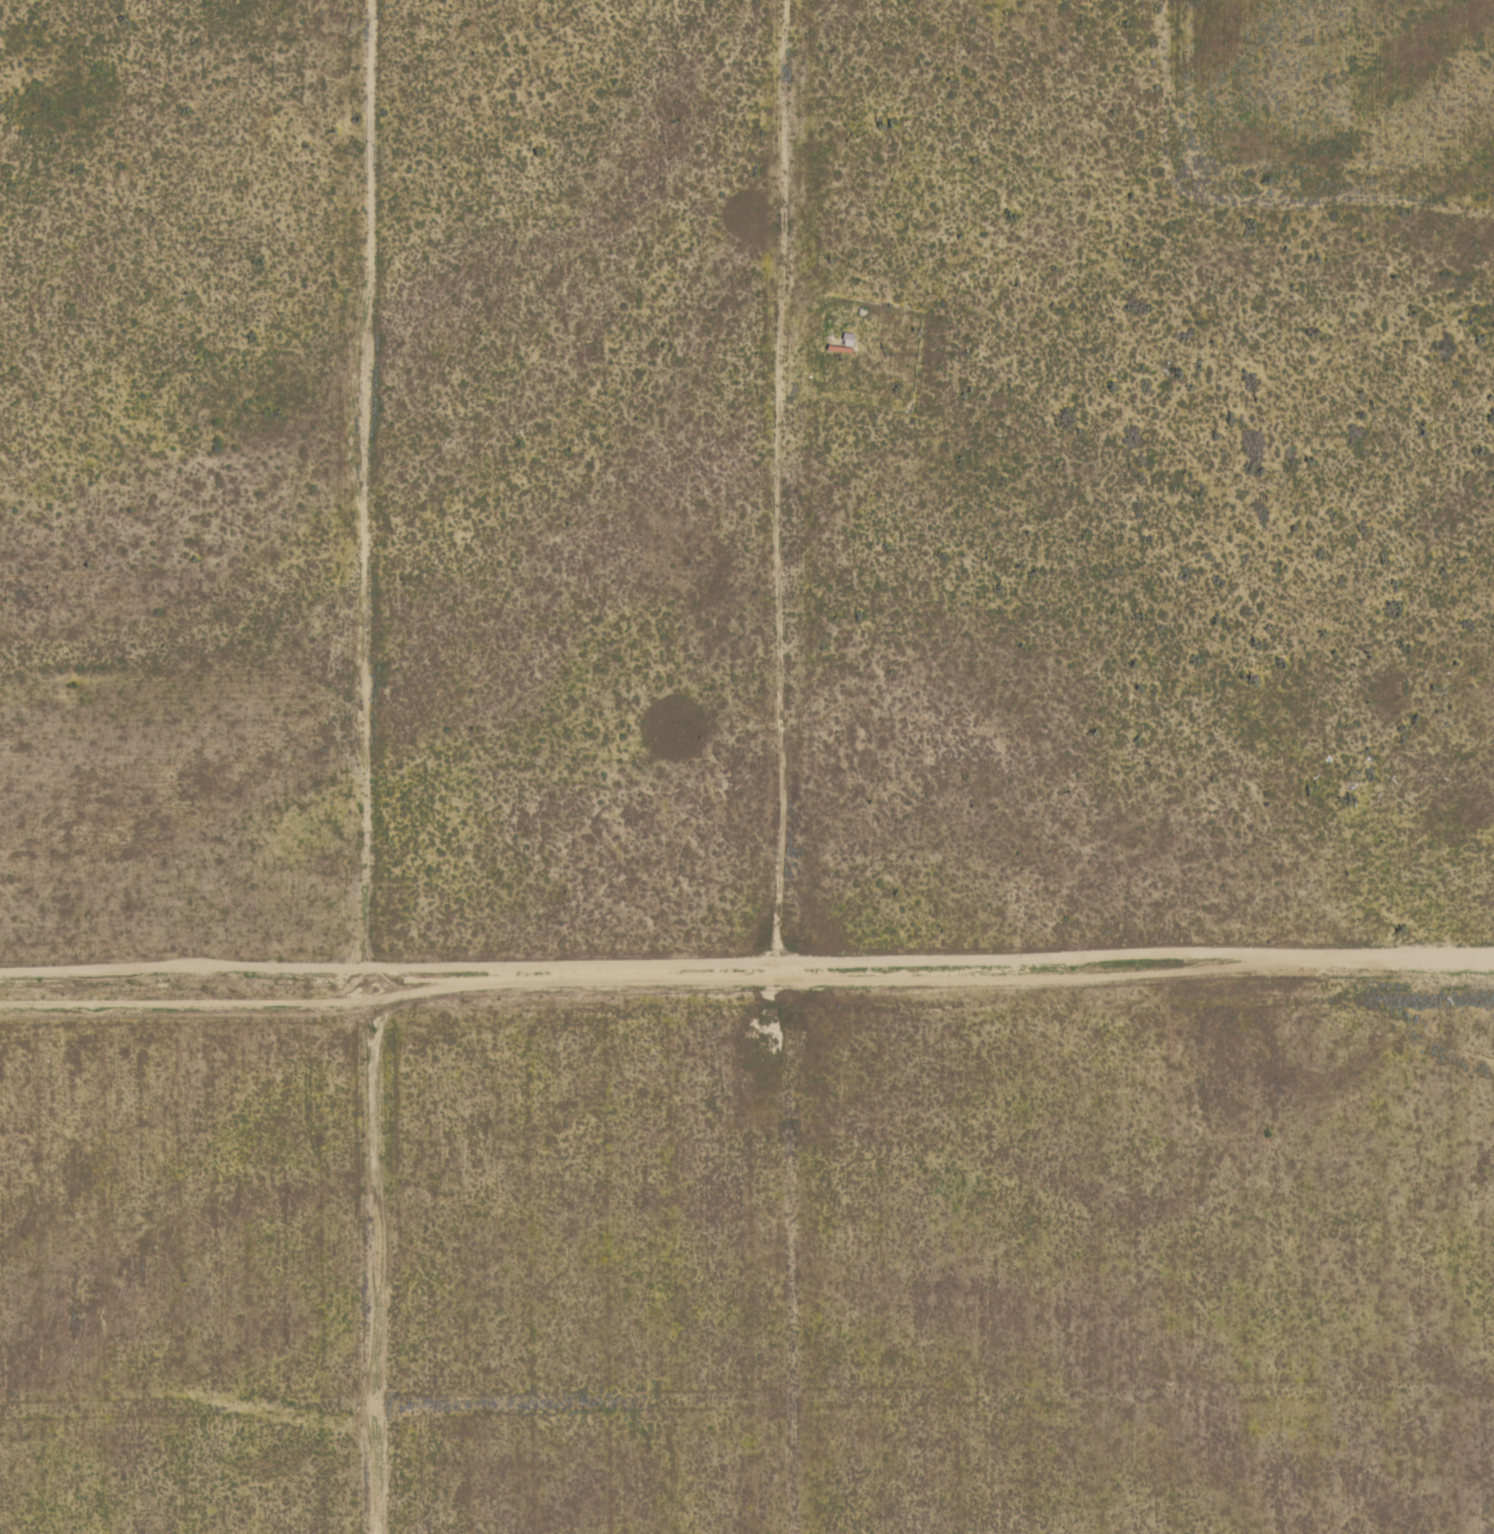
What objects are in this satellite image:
road: (783, 493)
road: (371, 503)
road: (931, 980)
road: (185, 1008)
road: (372, 1270)

